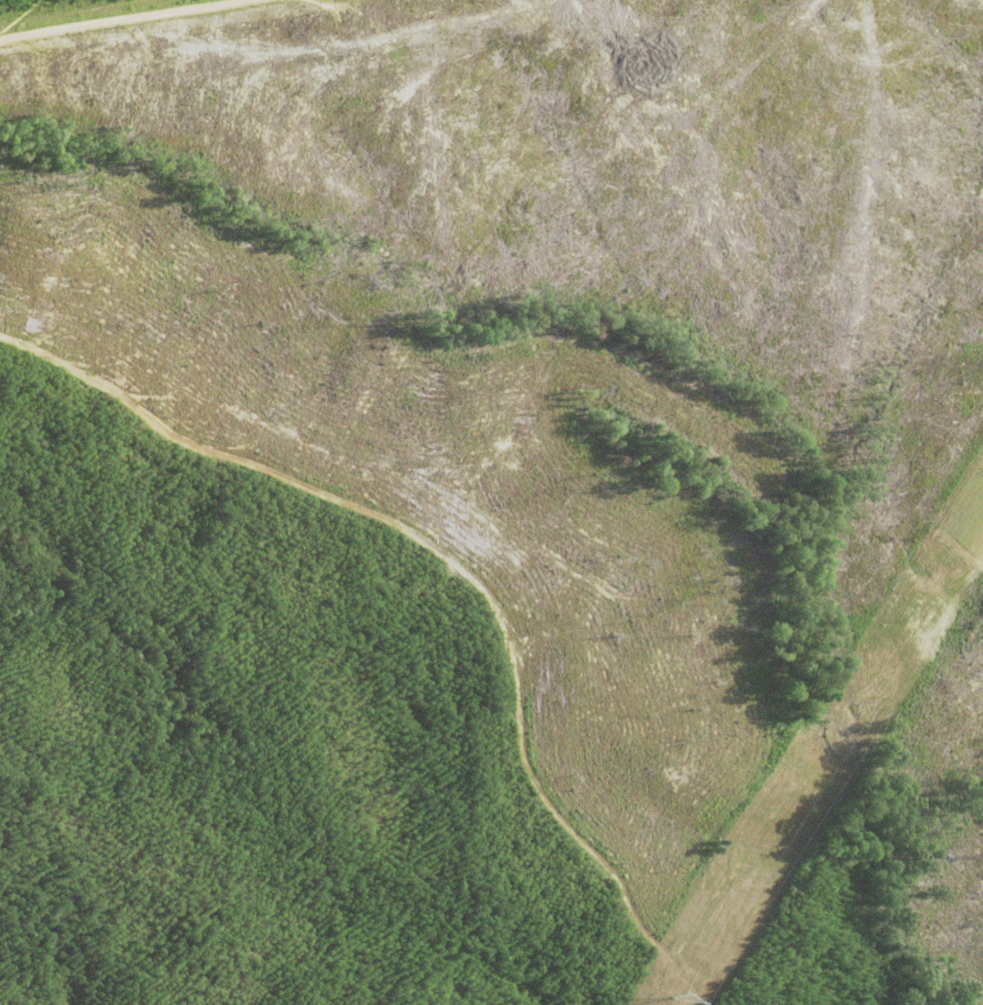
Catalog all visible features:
road: (38, 11)
power tower: (672, 997)

